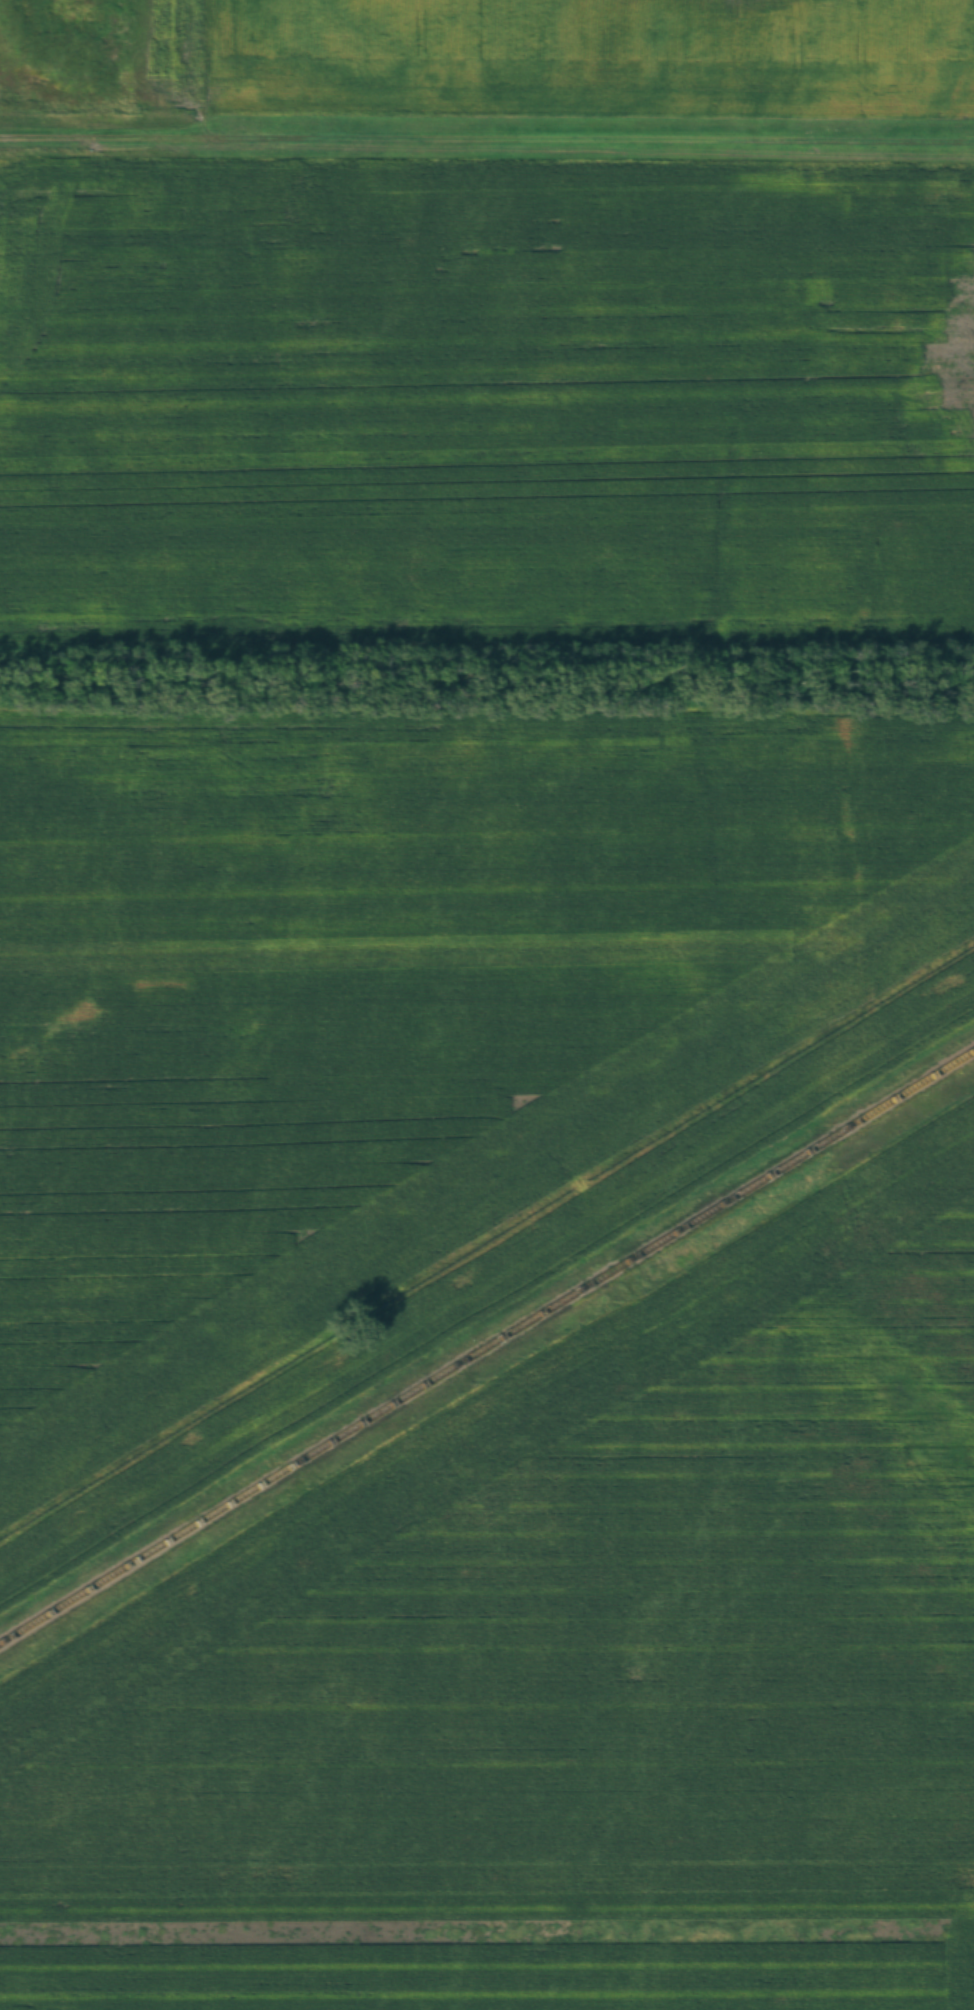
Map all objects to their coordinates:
road: (486, 142)
railway: (487, 1350)

